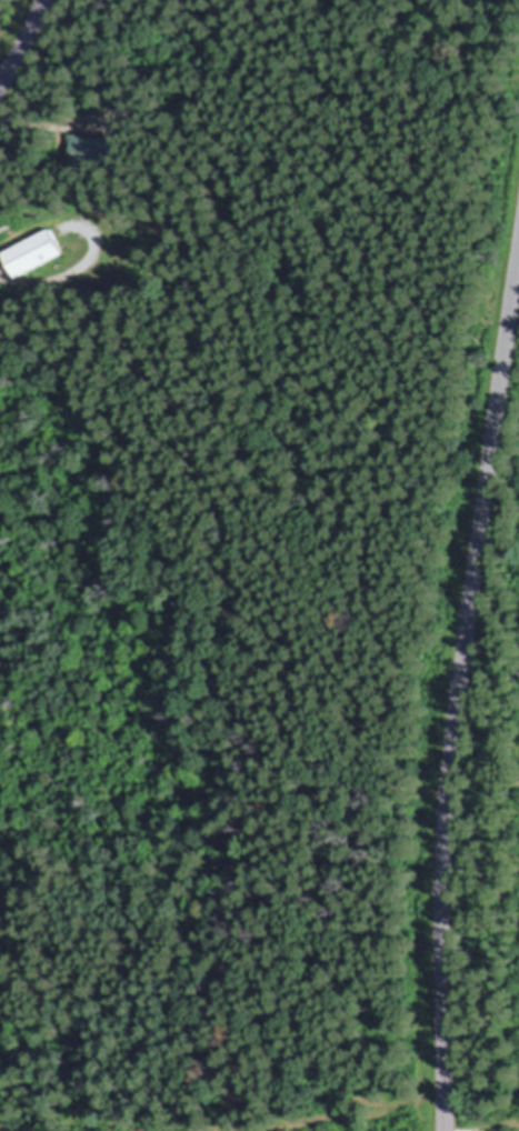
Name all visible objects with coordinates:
road: (23, 40)
road: (46, 122)
building: (97, 151)
building: (38, 252)
road: (460, 689)

